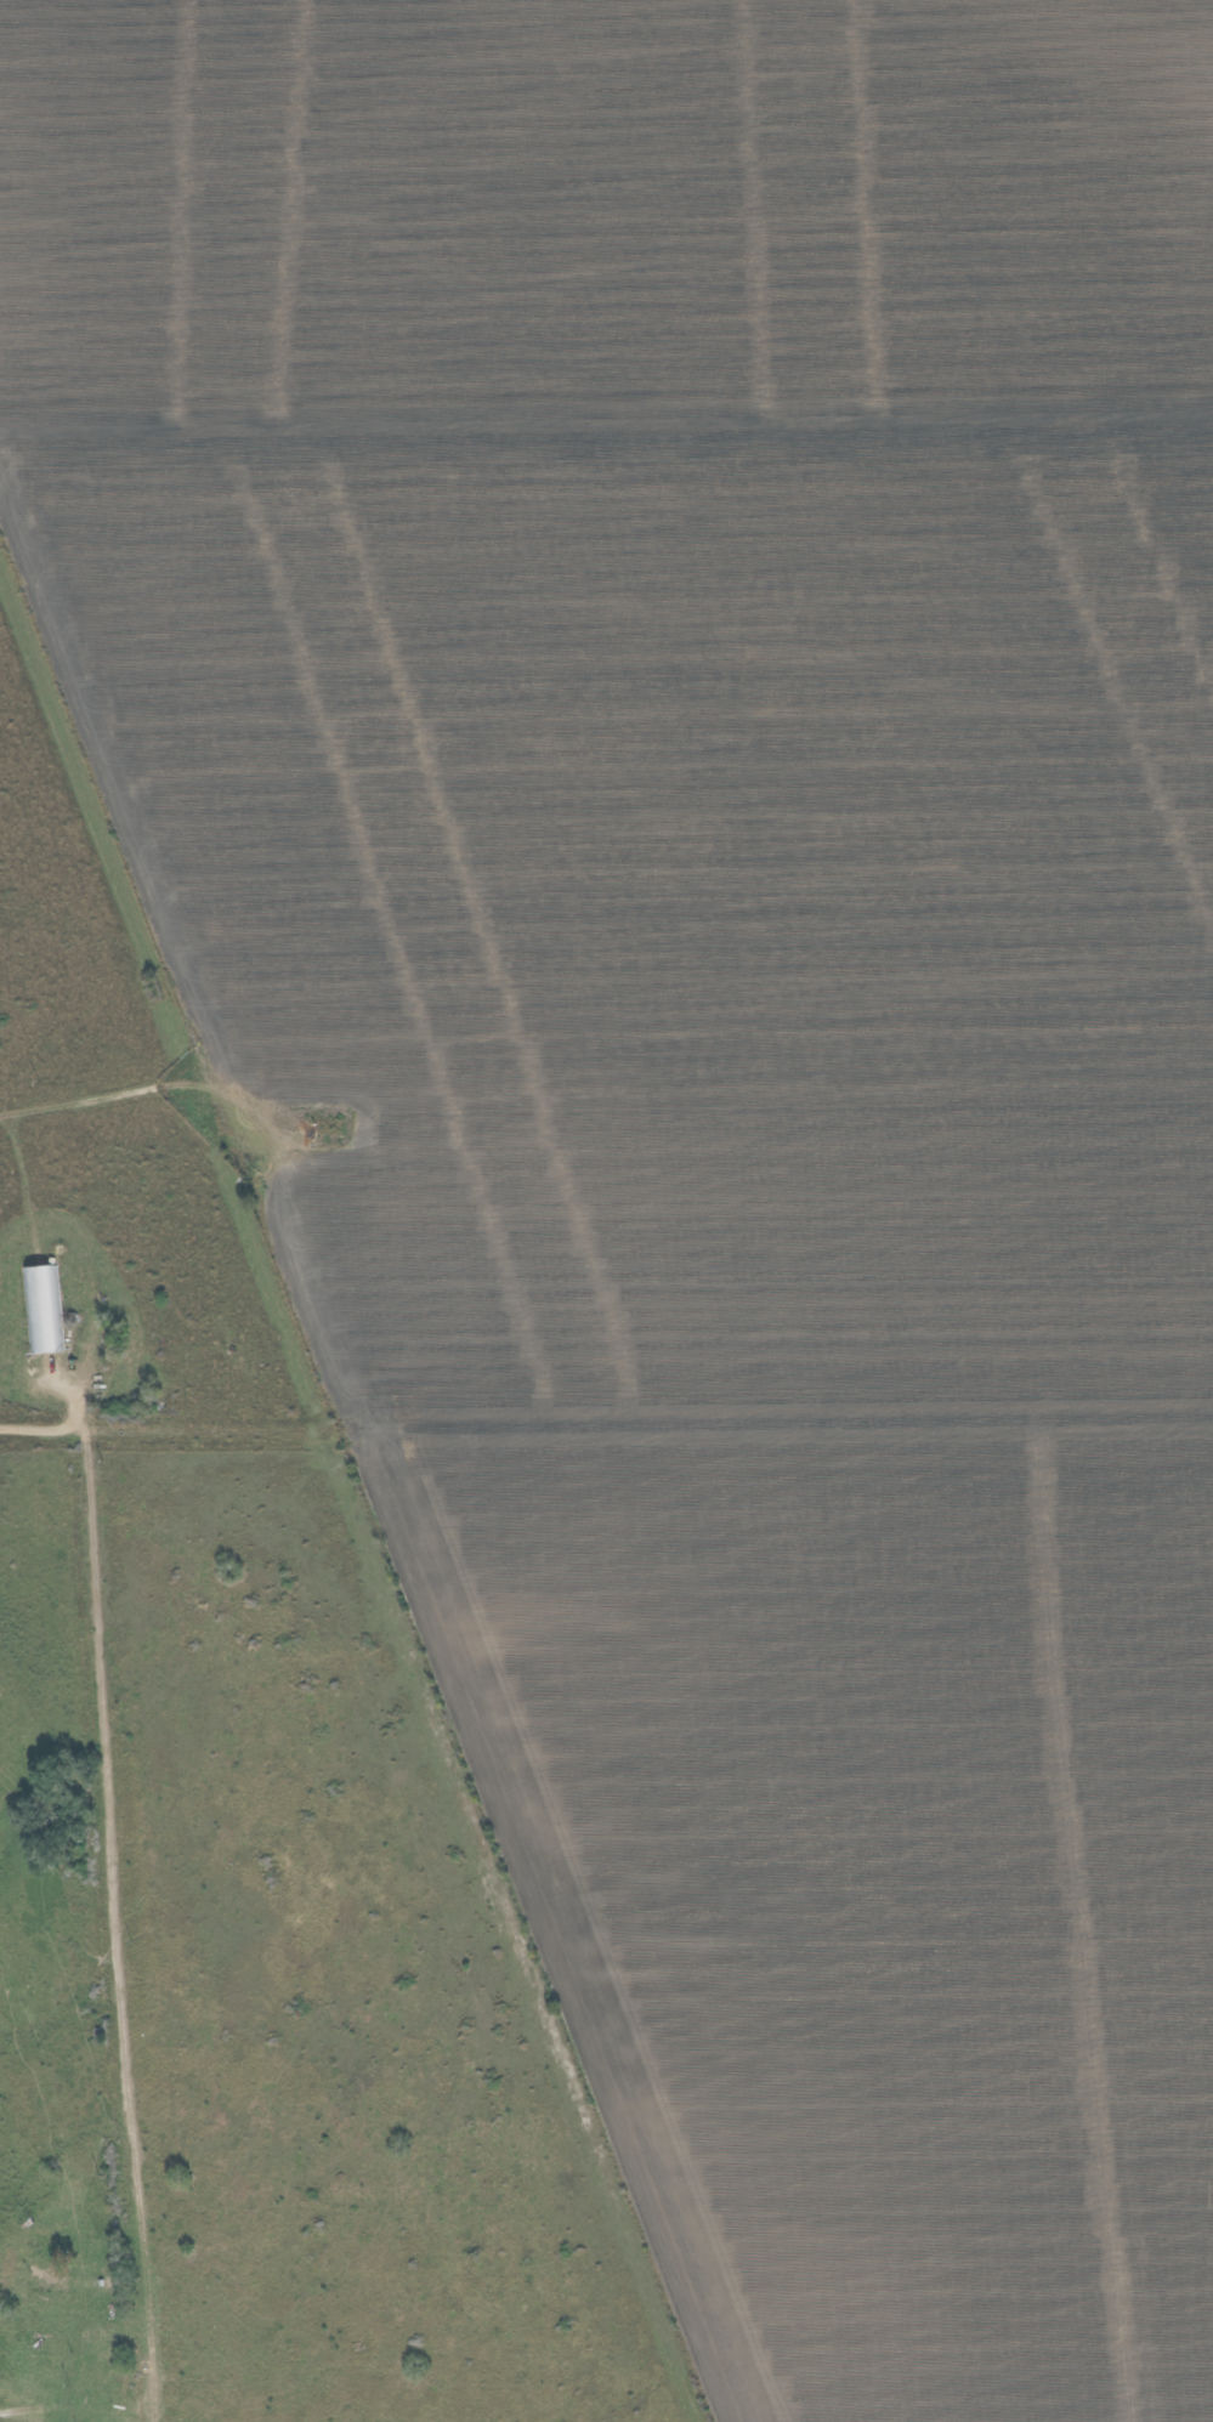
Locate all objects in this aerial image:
road: (606, 1439)

